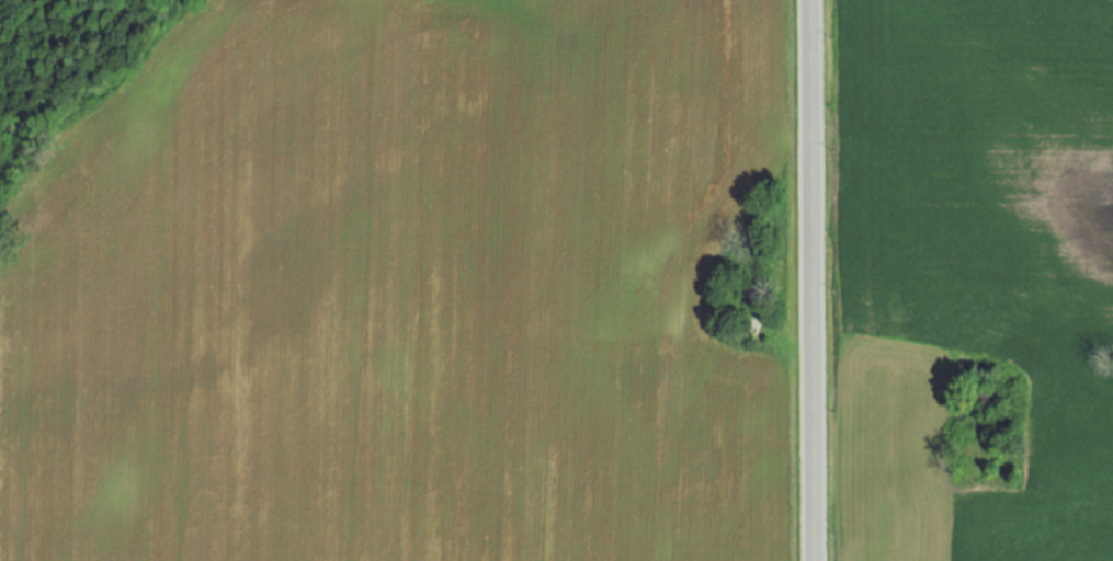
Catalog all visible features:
road: (808, 280)

